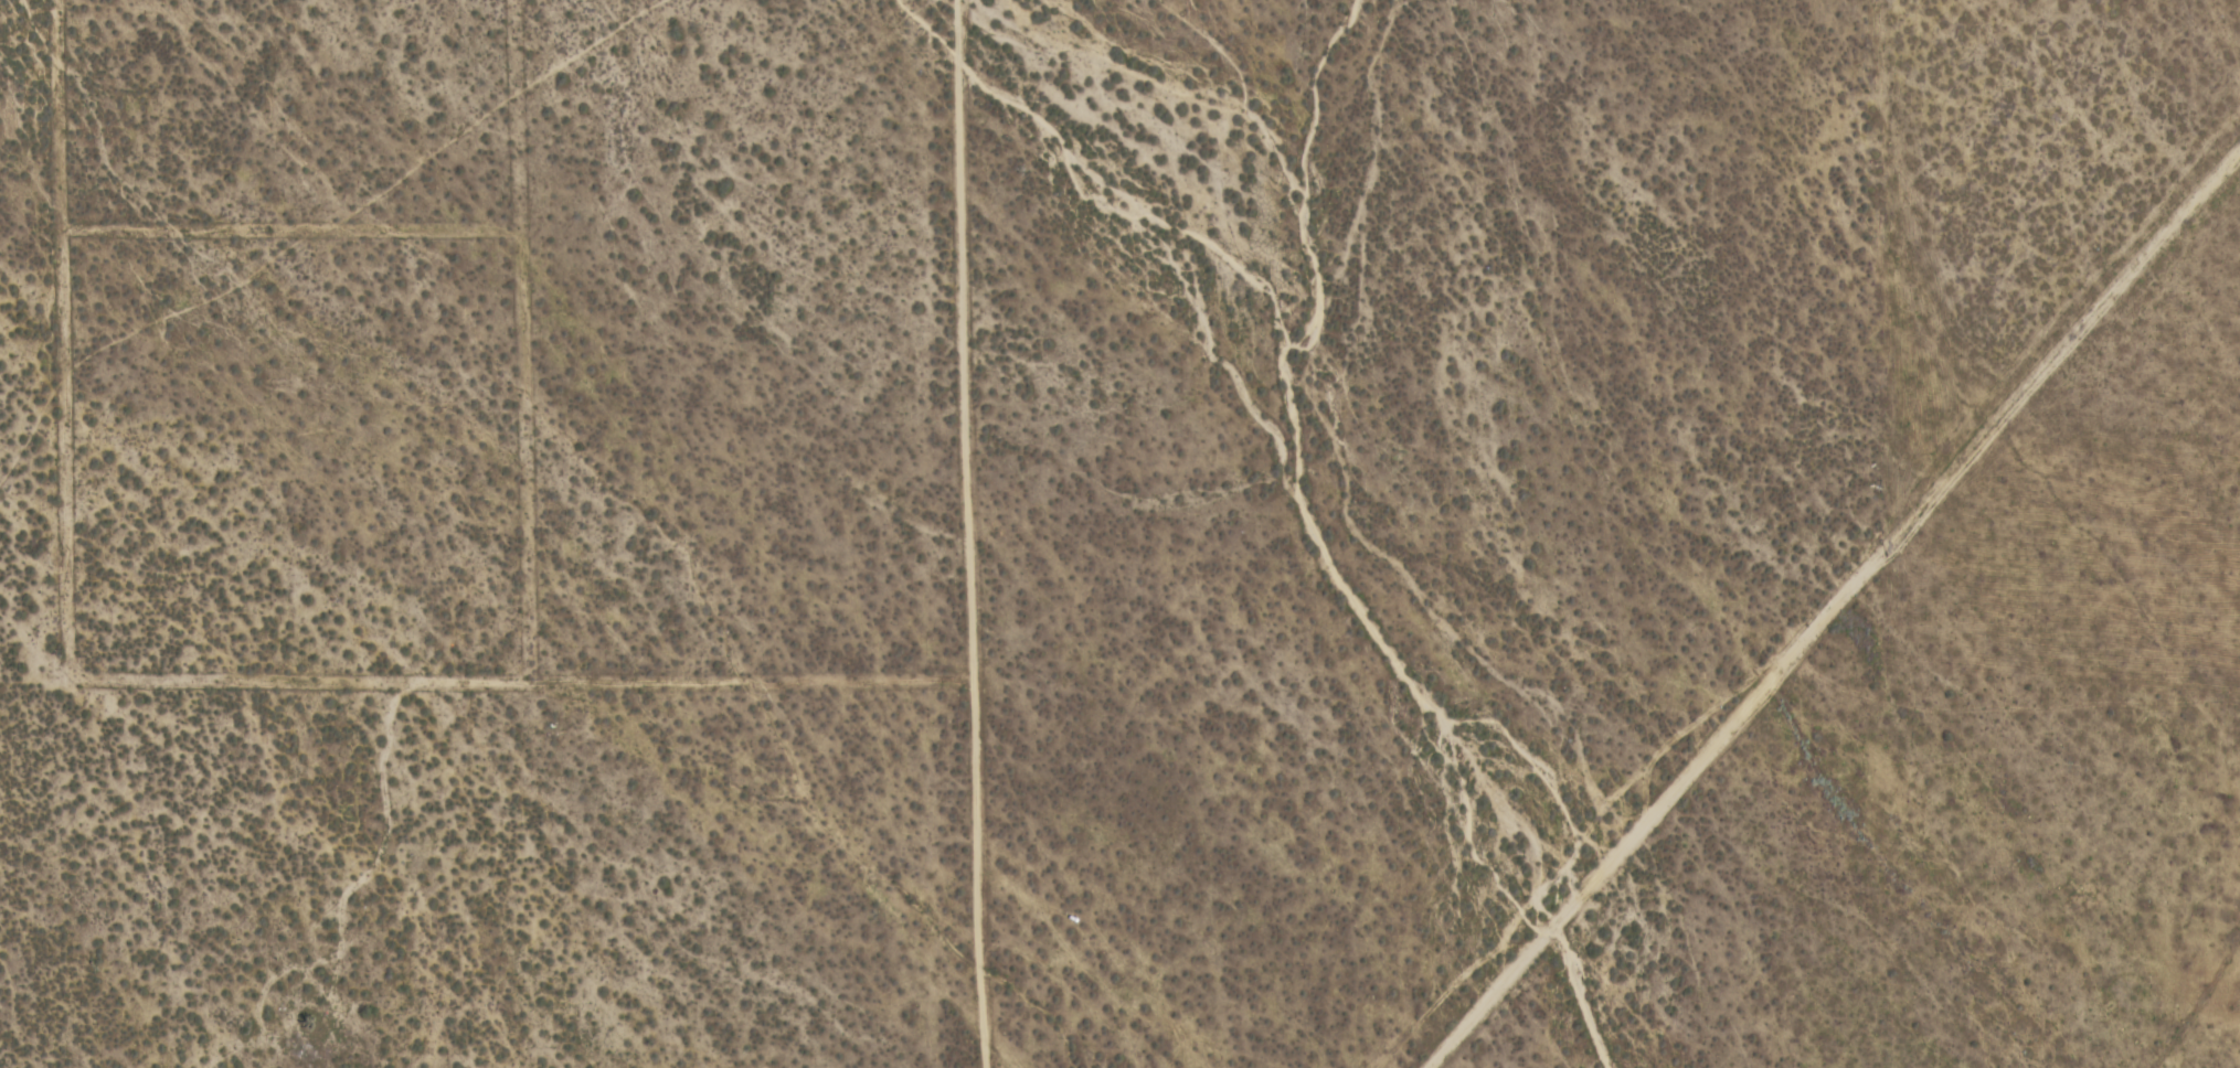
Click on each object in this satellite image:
road: (1838, 615)
road: (980, 877)

